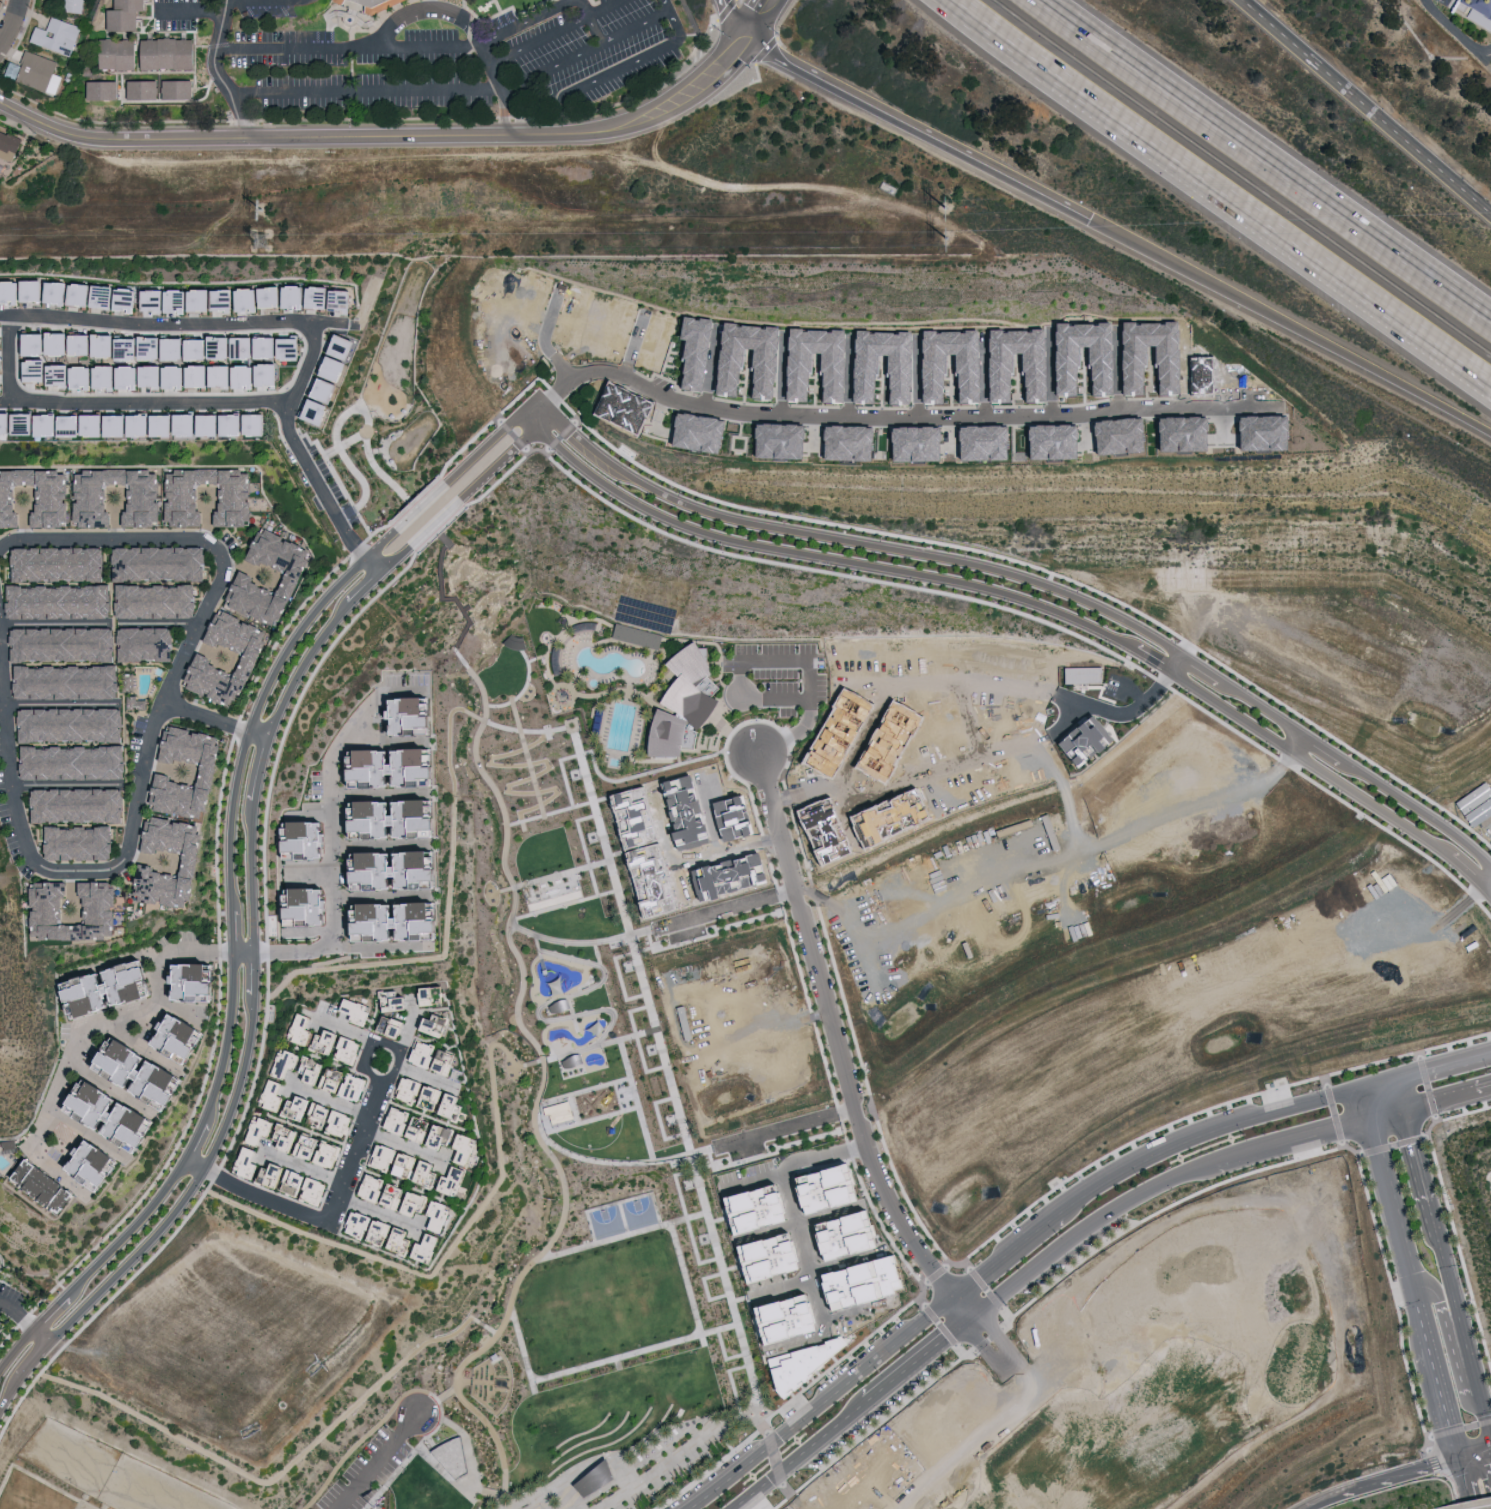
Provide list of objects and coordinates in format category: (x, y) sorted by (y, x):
road: (262, 2)
building: (360, 2)
parking lot: (1444, 2)
building: (74, 5)
road: (605, 7)
building: (1479, 7)
road: (189, 11)
building: (128, 14)
road: (738, 20)
road: (760, 20)
road: (13, 27)
road: (628, 28)
road: (470, 30)
road: (709, 30)
road: (1455, 30)
building: (58, 35)
road: (539, 39)
traffic signals: (748, 40)
road: (411, 46)
building: (152, 52)
road: (1488, 56)
road: (1309, 60)
road: (635, 61)
building: (36, 71)
road: (217, 71)
building: (145, 88)
building: (180, 88)
building: (105, 89)
road: (422, 89)
road: (917, 131)
road: (386, 137)
building: (9, 144)
road: (1261, 159)
road: (1436, 167)
road: (1220, 197)
power tower: (263, 208)
power tower: (960, 211)
power tower: (960, 242)
power tower: (265, 243)
building: (23, 290)
building: (60, 291)
building: (83, 293)
building: (106, 295)
building: (274, 296)
building: (298, 296)
building: (322, 296)
building: (251, 298)
building: (129, 299)
building: (179, 299)
building: (226, 299)
building: (346, 299)
road: (4, 316)
road: (117, 319)
road: (326, 323)
road: (1288, 330)
building: (2, 334)
building: (64, 342)
building: (40, 343)
building: (87, 343)
building: (110, 344)
building: (349, 345)
road: (546, 345)
building: (226, 346)
building: (250, 346)
building: (273, 346)
building: (157, 347)
building: (296, 347)
building: (134, 348)
building: (180, 348)
building: (203, 348)
building: (686, 351)
building: (2, 358)
building: (808, 364)
building: (341, 367)
road: (302, 369)
building: (273, 373)
building: (65, 374)
building: (111, 375)
building: (158, 375)
building: (204, 375)
building: (227, 375)
building: (251, 375)
building: (88, 376)
building: (135, 376)
building: (181, 376)
building: (961, 379)
building: (2, 381)
building: (333, 389)
road: (7, 399)
road: (146, 402)
building: (620, 407)
building: (323, 410)
road: (350, 411)
road: (878, 412)
road: (525, 417)
road: (541, 417)
building: (8, 422)
building: (30, 422)
building: (250, 423)
building: (53, 424)
building: (111, 424)
building: (169, 424)
building: (192, 424)
building: (216, 424)
building: (688, 432)
building: (1048, 440)
road: (347, 441)
building: (770, 441)
building: (840, 442)
building: (975, 442)
building: (907, 443)
road: (336, 469)
road: (444, 476)
parking lot: (336, 484)
road: (313, 485)
building: (237, 492)
building: (54, 493)
road: (404, 493)
building: (145, 496)
road: (450, 498)
road: (353, 526)
road: (847, 539)
road: (823, 556)
building: (164, 562)
building: (62, 563)
road: (363, 567)
building: (250, 582)
building: (160, 600)
building: (63, 601)
road: (465, 608)
building: (637, 636)
building: (96, 643)
road: (771, 659)
road: (1151, 659)
road: (1174, 661)
building: (208, 664)
road: (1199, 665)
building: (693, 669)
road: (1333, 678)
building: (71, 681)
building: (690, 702)
building: (138, 703)
road: (1257, 705)
road: (1126, 711)
road: (258, 712)
building: (419, 717)
road: (209, 718)
road: (973, 719)
building: (75, 726)
road: (1051, 728)
road: (559, 730)
road: (455, 731)
road: (260, 734)
road: (342, 735)
building: (666, 736)
road: (864, 738)
road: (1293, 739)
road: (1320, 744)
road: (151, 745)
road: (378, 746)
road: (265, 747)
road: (530, 758)
road: (1309, 761)
building: (78, 762)
road: (536, 762)
building: (399, 768)
building: (214, 770)
road: (565, 773)
road: (66, 784)
road: (379, 791)
road: (1201, 802)
building: (82, 804)
road: (1417, 809)
road: (550, 814)
road: (847, 816)
road: (712, 818)
building: (403, 819)
building: (1486, 828)
building: (308, 839)
road: (379, 842)
building: (83, 843)
road: (668, 848)
road: (586, 850)
road: (726, 851)
building: (198, 858)
building: (406, 870)
road: (1468, 871)
road: (310, 874)
road: (555, 879)
park: (559, 881)
road: (330, 883)
road: (1488, 884)
park: (545, 886)
road: (1488, 891)
road: (381, 894)
park: (557, 900)
road: (944, 901)
road: (232, 902)
building: (318, 904)
road: (566, 906)
road: (725, 908)
building: (51, 915)
building: (404, 922)
road: (1431, 931)
road: (233, 932)
road: (632, 940)
road: (372, 943)
road: (583, 943)
road: (433, 957)
road: (166, 959)
road: (520, 960)
road: (255, 974)
building: (201, 983)
building: (118, 988)
building: (433, 996)
building: (398, 1001)
road: (182, 1010)
building: (359, 1010)
road: (253, 1011)
building: (437, 1025)
building: (396, 1026)
road: (407, 1028)
building: (299, 1029)
road: (835, 1032)
road: (349, 1034)
building: (185, 1037)
road: (229, 1037)
road: (640, 1039)
road: (150, 1044)
road: (600, 1044)
building: (339, 1046)
building: (436, 1056)
road: (395, 1057)
road: (326, 1060)
road: (531, 1062)
road: (1443, 1064)
road: (64, 1066)
building: (298, 1066)
building: (151, 1075)
road: (426, 1079)
road: (114, 1081)
building: (348, 1083)
road: (1375, 1083)
road: (1399, 1094)
building: (273, 1095)
road: (248, 1097)
road: (1447, 1097)
building: (435, 1098)
road: (638, 1100)
road: (329, 1102)
road: (1360, 1105)
building: (561, 1108)
park: (497, 1110)
building: (319, 1114)
building: (118, 1115)
road: (1384, 1115)
road: (588, 1118)
building: (400, 1121)
road: (88, 1128)
road: (776, 1130)
building: (266, 1131)
road: (1201, 1136)
building: (451, 1139)
road: (197, 1140)
building: (295, 1141)
road: (1290, 1144)
road: (403, 1146)
building: (323, 1150)
building: (386, 1157)
road: (606, 1161)
building: (100, 1164)
road: (60, 1165)
building: (412, 1165)
road: (791, 1166)
road: (306, 1169)
building: (431, 1173)
building: (282, 1176)
building: (457, 1180)
road: (698, 1182)
building: (52, 1185)
building: (376, 1187)
building: (825, 1189)
building: (399, 1196)
road: (618, 1201)
road: (181, 1203)
building: (752, 1210)
building: (434, 1211)
road: (377, 1212)
park: (639, 1213)
road: (825, 1213)
road: (623, 1217)
road: (687, 1218)
road: (327, 1220)
park: (607, 1222)
road: (131, 1228)
road: (646, 1228)
road: (1396, 1228)
building: (384, 1233)
road: (1087, 1233)
road: (765, 1234)
building: (839, 1236)
building: (431, 1249)
road: (716, 1249)
road: (801, 1251)
road: (448, 1255)
road: (1008, 1255)
building: (765, 1259)
road: (1447, 1259)
road: (841, 1263)
building: (1, 1265)
building: (861, 1284)
road: (779, 1285)
road: (122, 1287)
road: (719, 1296)
traffic signals: (954, 1296)
road: (962, 1308)
road: (855, 1310)
road: (52, 1311)
road: (17, 1315)
building: (781, 1317)
road: (714, 1318)
traffic signals: (971, 1321)
building: (1, 1323)
road: (485, 1324)
road: (699, 1326)
road: (42, 1336)
road: (494, 1339)
road: (794, 1342)
road: (1455, 1343)
road: (522, 1347)
road: (1008, 1347)
road: (17, 1348)
road: (632, 1353)
road: (35, 1361)
road: (919, 1362)
road: (618, 1363)
building: (801, 1364)
road: (749, 1368)
road: (731, 1381)
road: (13, 1388)
road: (1442, 1395)
road: (819, 1402)
road: (3, 1404)
road: (15, 1408)
road: (440, 1421)
road: (1488, 1422)
road: (597, 1426)
road: (616, 1428)
road: (632, 1430)
road: (493, 1434)
road: (360, 1440)
road: (563, 1442)
road: (470, 1446)
road: (573, 1446)
road: (1474, 1448)
road: (970, 1450)
traffic signals: (1457, 1453)
road: (575, 1455)
road: (801, 1456)
building: (452, 1458)
road: (375, 1460)
road: (1390, 1472)
road: (391, 1478)
building: (595, 1478)
road: (451, 1480)
road: (273, 1481)
road: (1464, 1481)
road: (499, 1493)
road: (1310, 1501)

